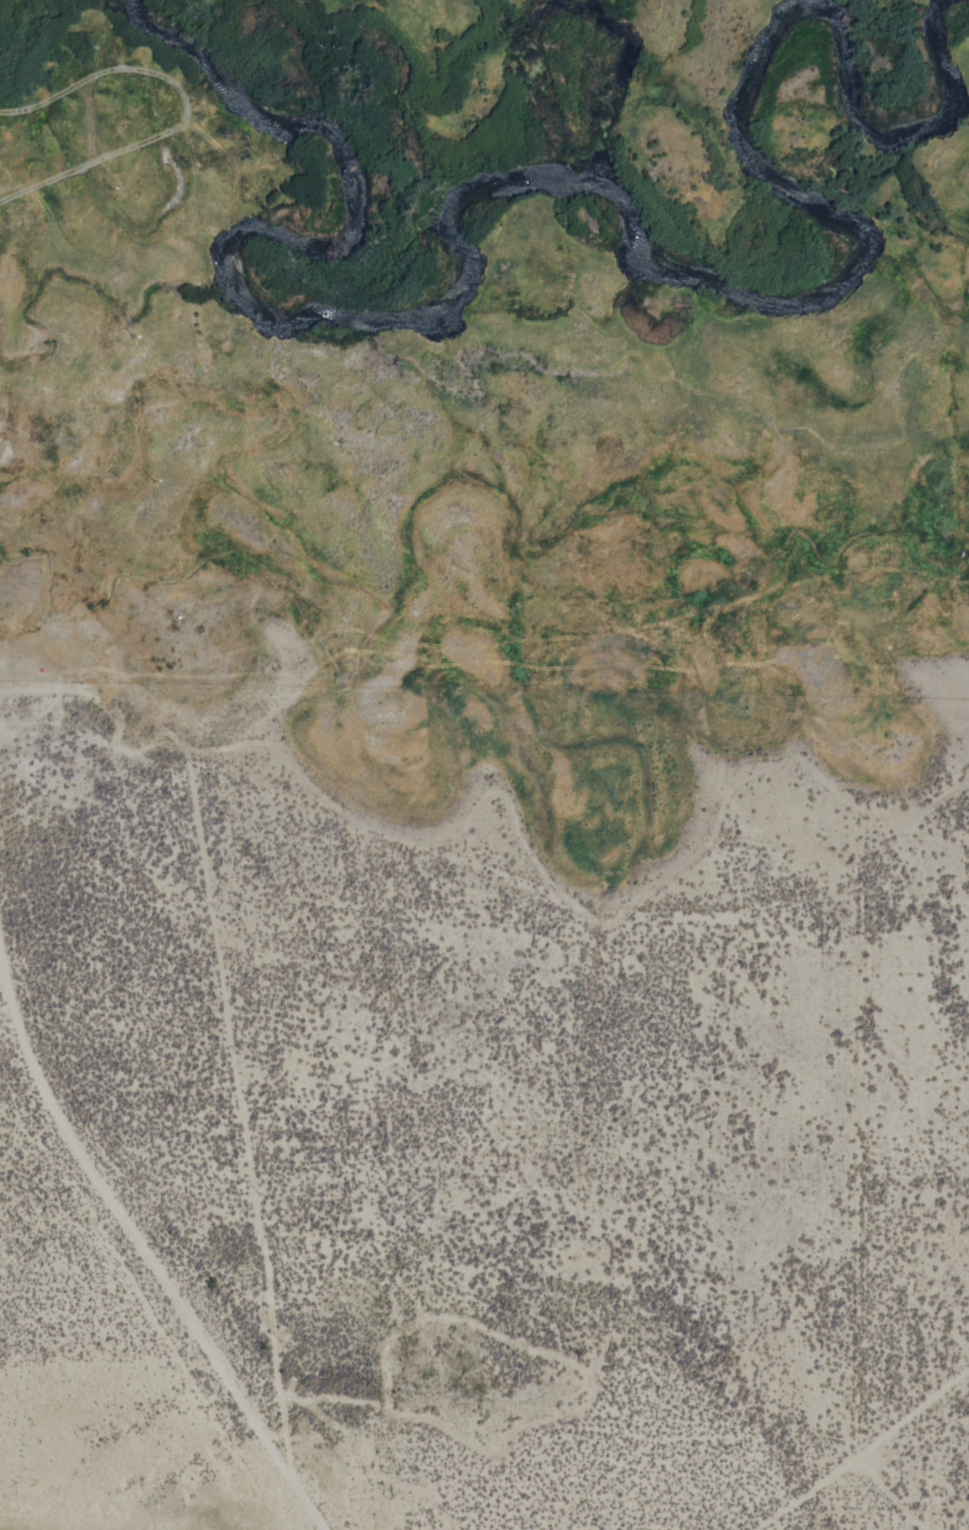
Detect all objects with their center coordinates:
river: (936, 59)
river: (531, 78)
road: (110, 158)
road: (247, 1088)
road: (142, 1229)
road: (867, 1455)

